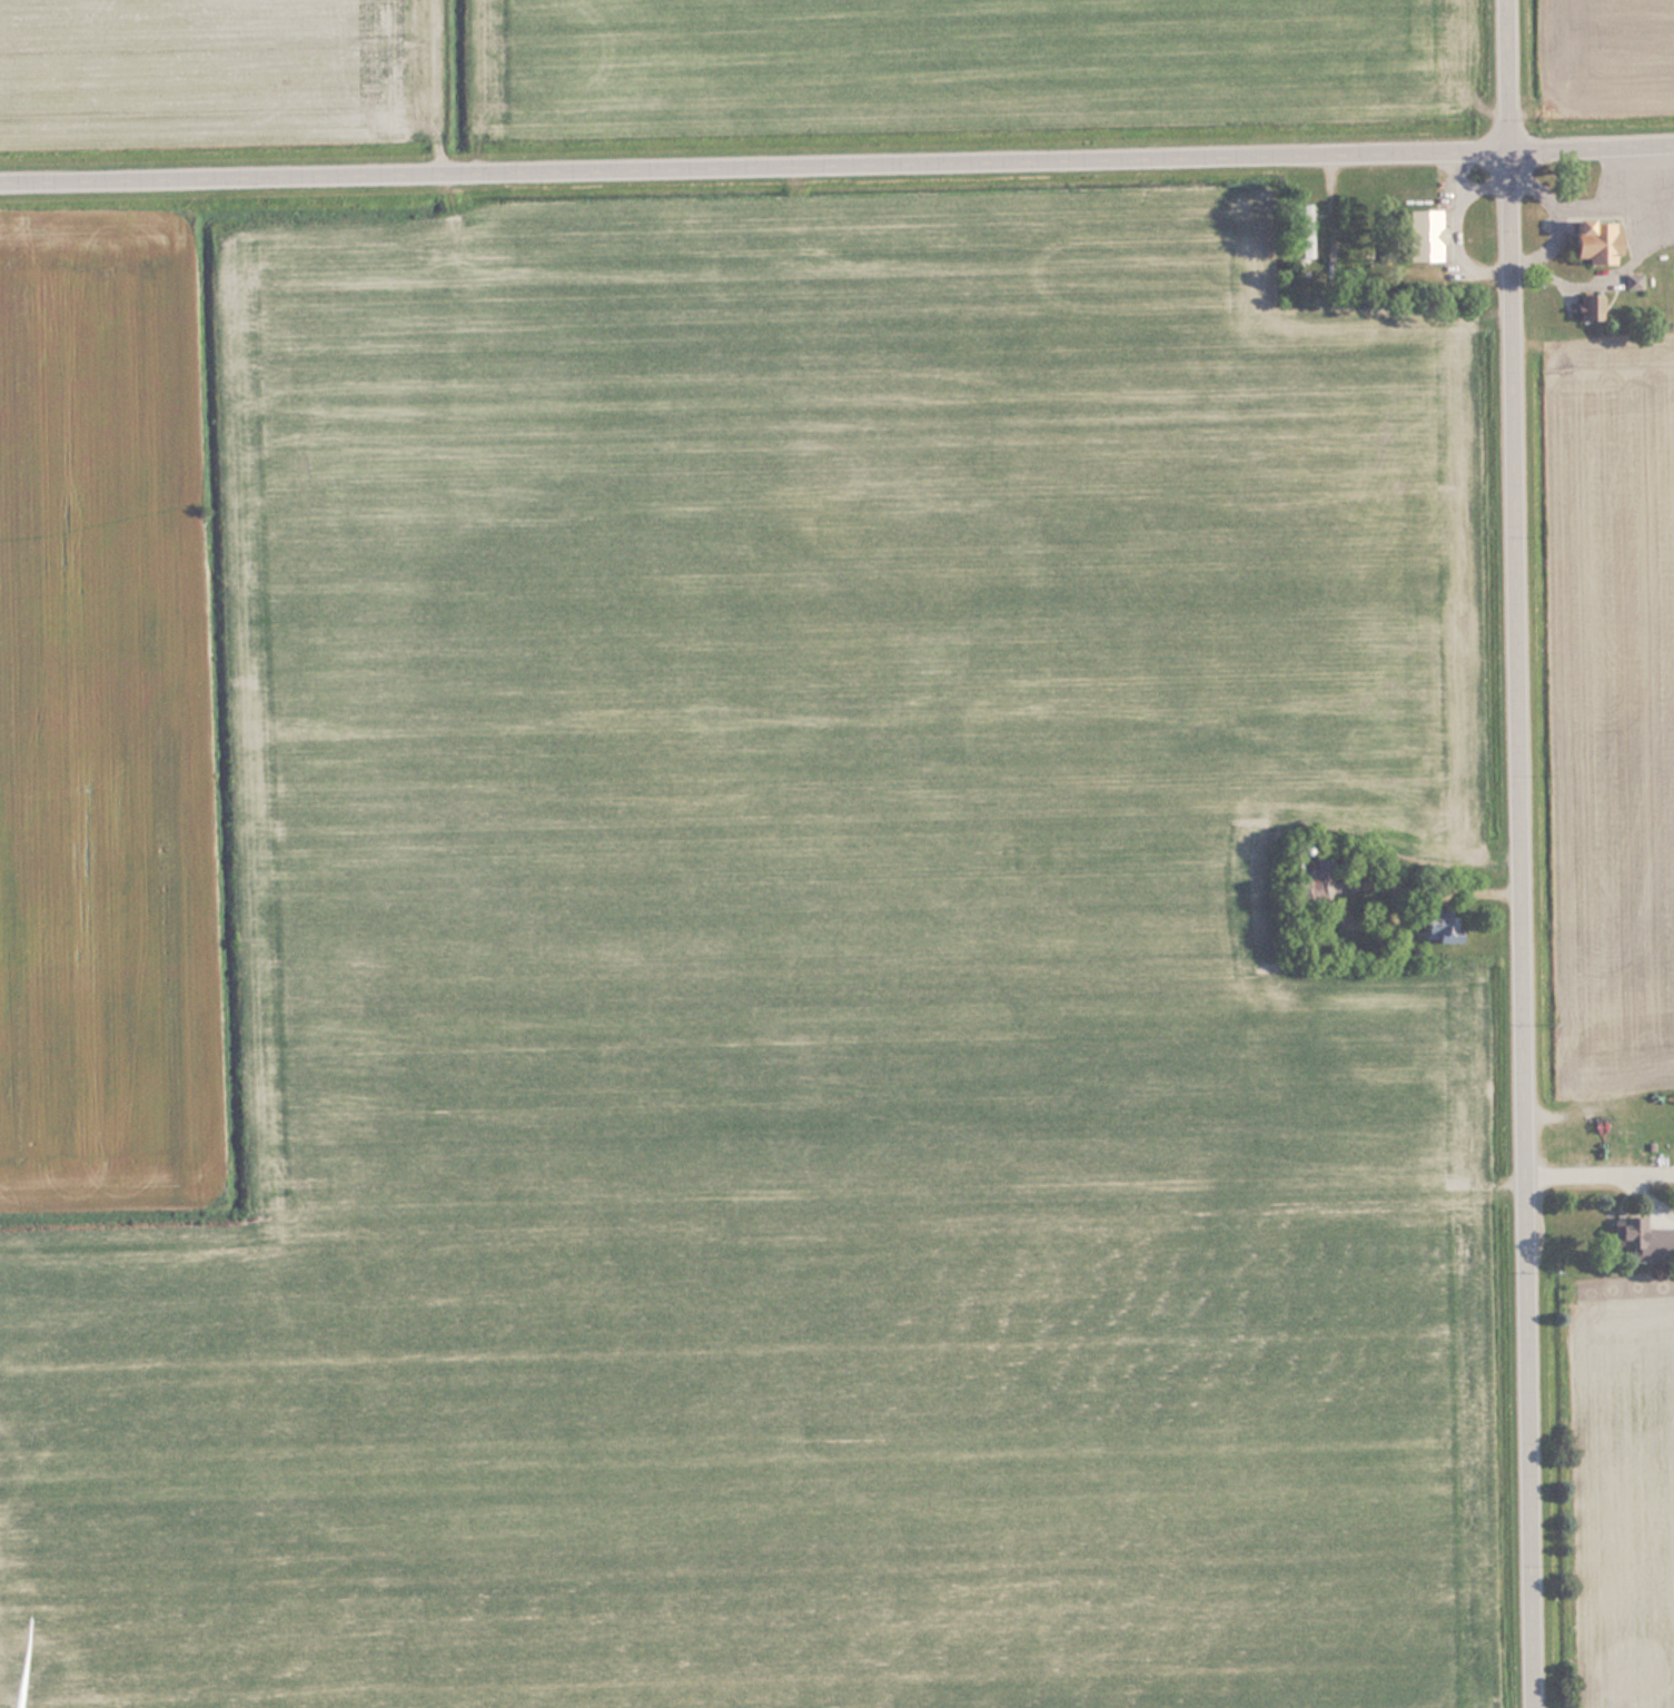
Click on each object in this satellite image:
road: (836, 161)
building: (1304, 229)
building: (1414, 234)
building: (1593, 240)
building: (1586, 307)
road: (1517, 853)
building: (1306, 879)
building: (1437, 929)
building: (1624, 1233)

